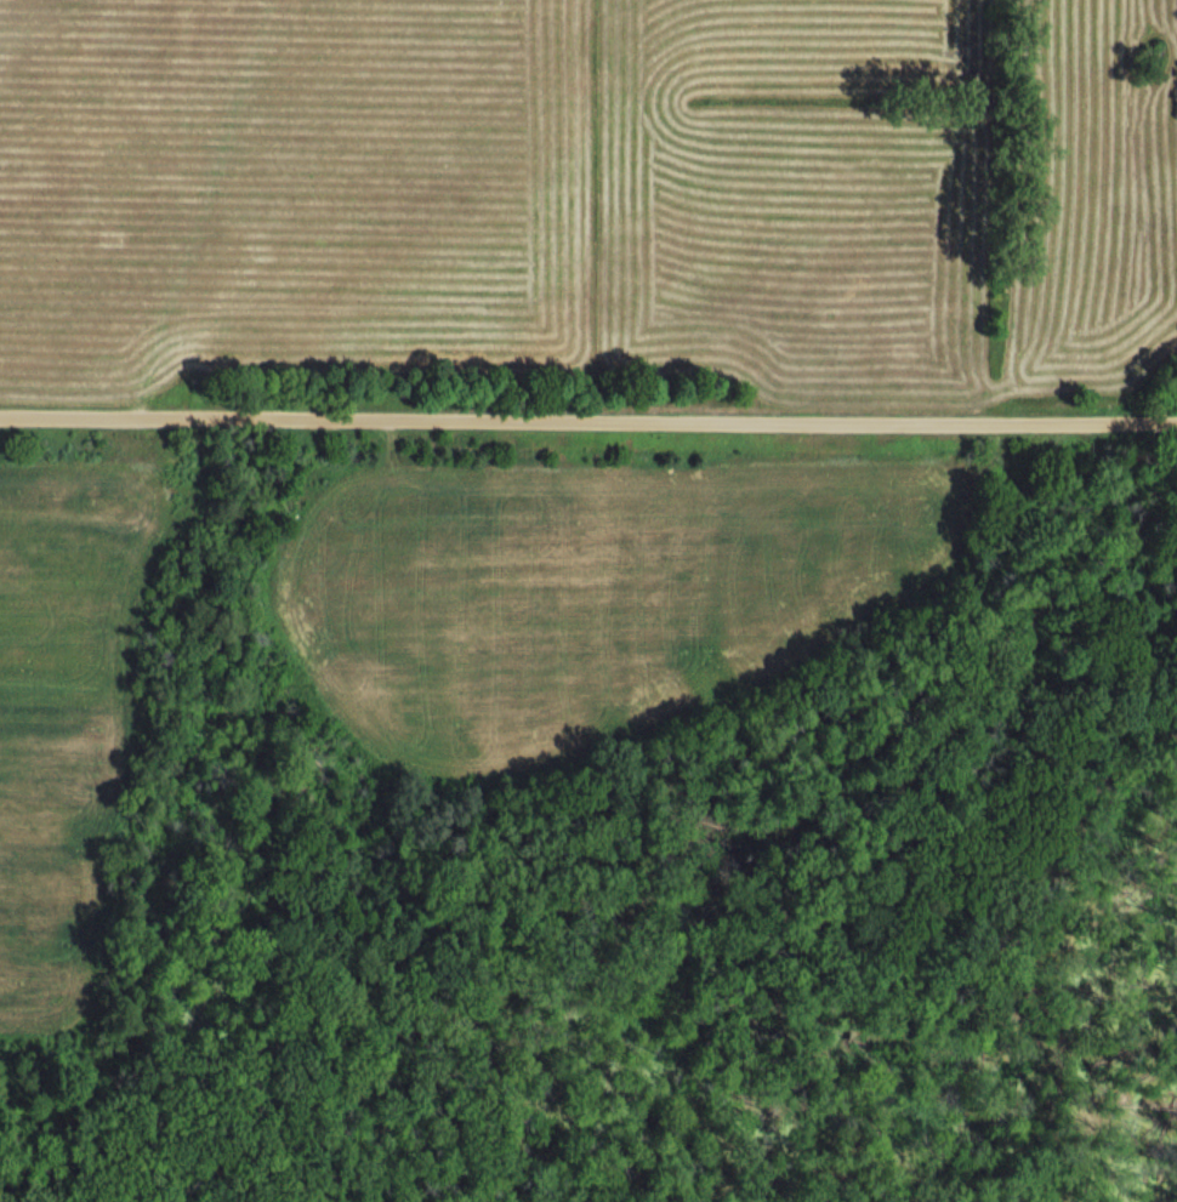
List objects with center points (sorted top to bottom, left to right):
road: (588, 425)

